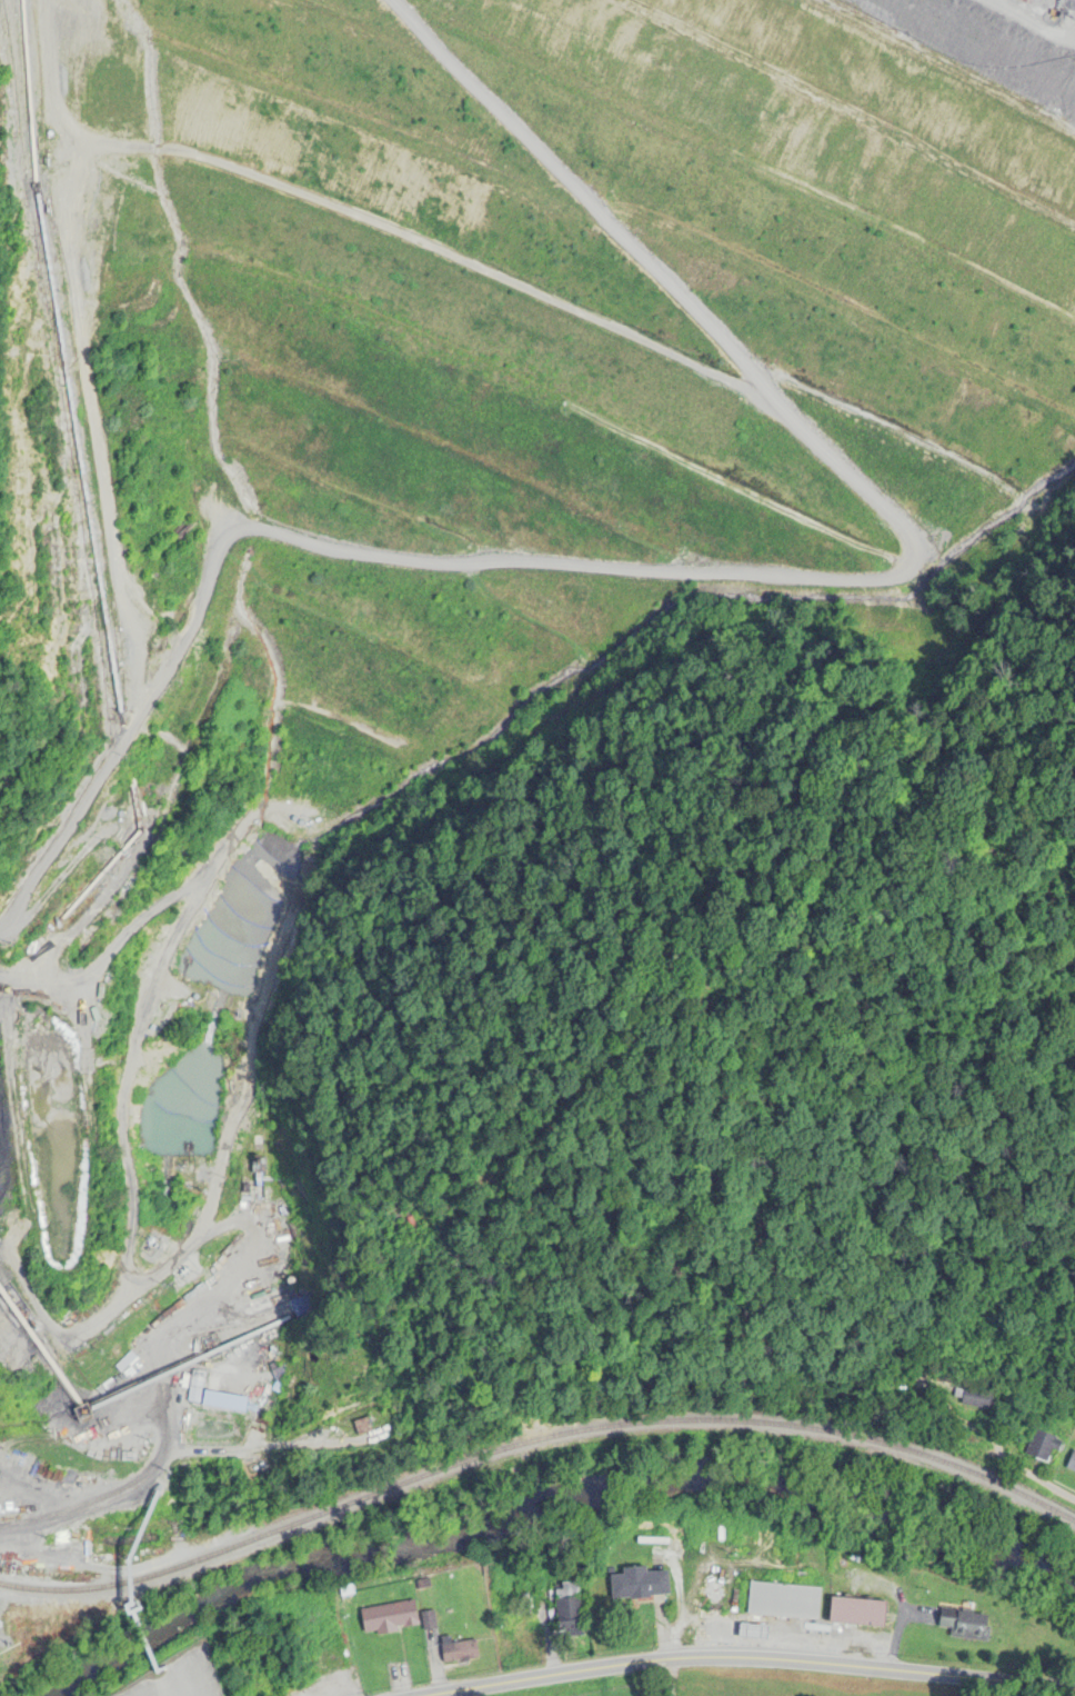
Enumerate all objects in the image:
quarry: (418, 568)
road: (820, 599)
building: (194, 1388)
building: (976, 1399)
building: (224, 1403)
building: (363, 1427)
building: (115, 1439)
railway: (534, 1444)
building: (1042, 1447)
road: (1001, 1450)
building: (1072, 1464)
river: (559, 1509)
building: (640, 1585)
building: (782, 1602)
building: (569, 1610)
building: (857, 1614)
building: (389, 1618)
building: (965, 1626)
building: (459, 1652)
road: (756, 1660)

